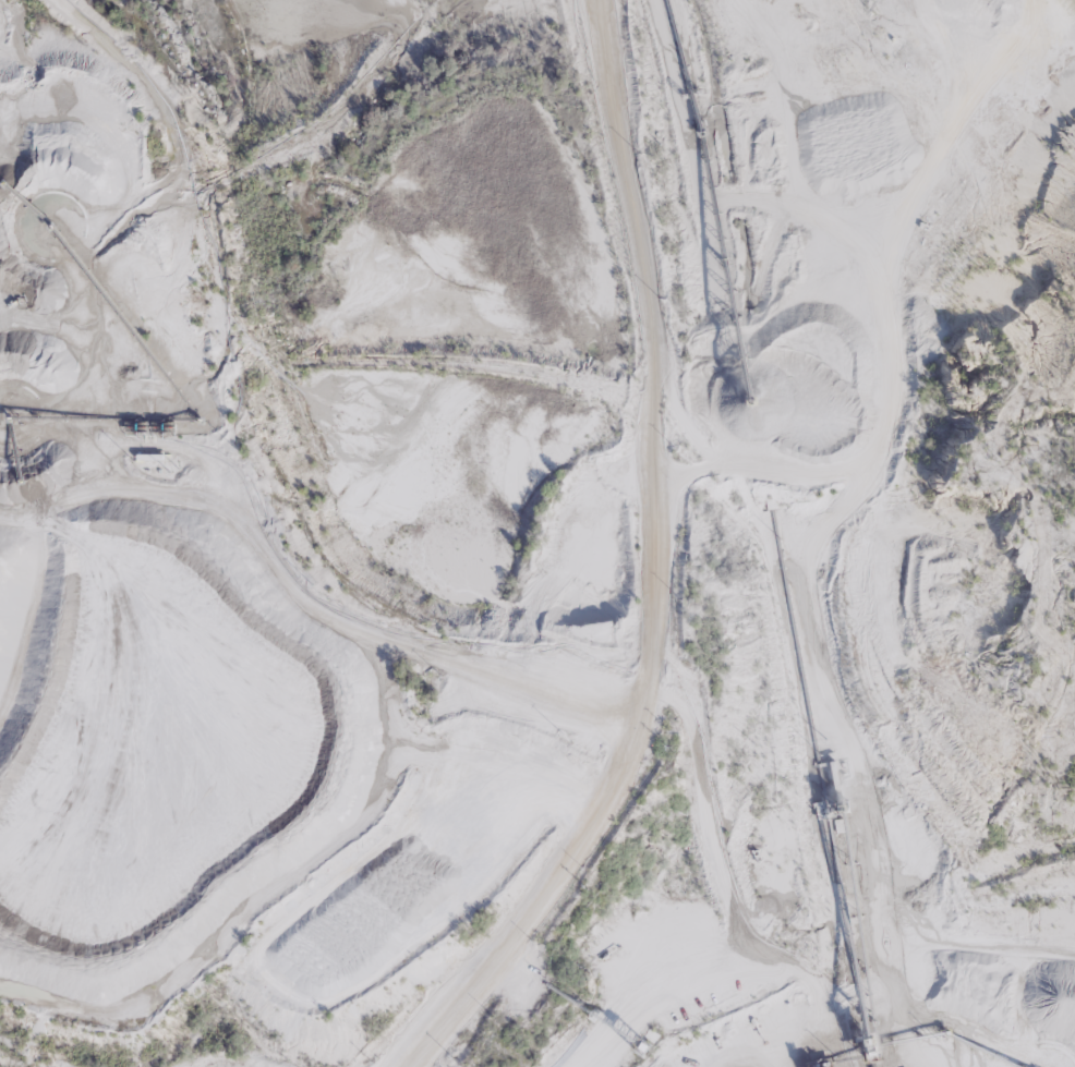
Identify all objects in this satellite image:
quarry: (537, 533)
road: (649, 571)

